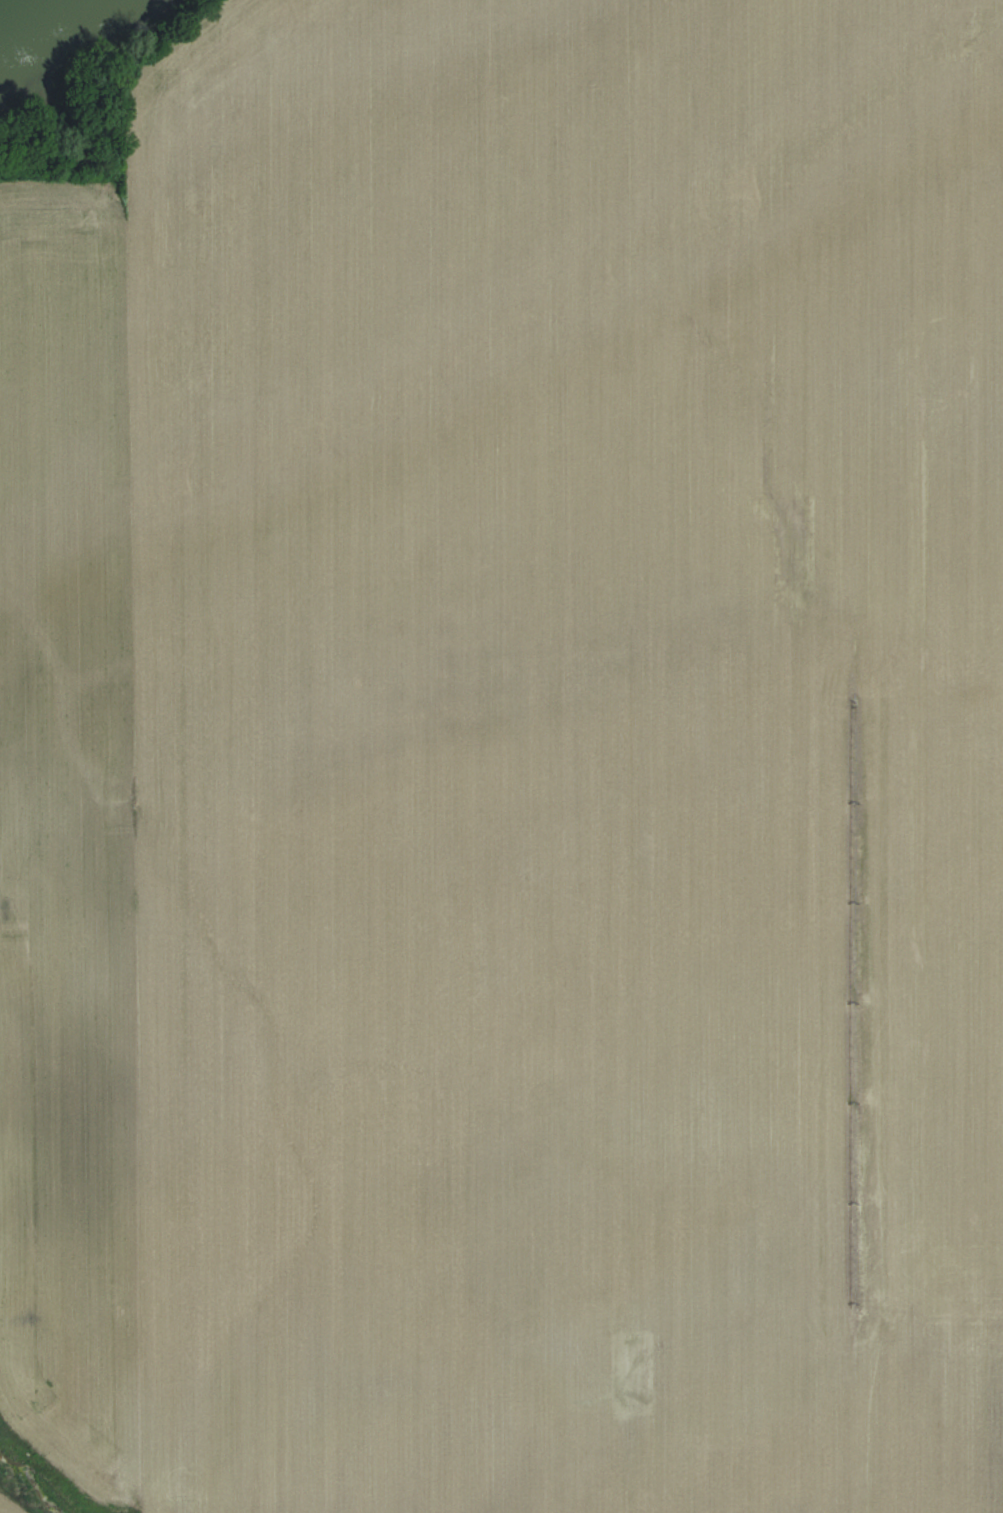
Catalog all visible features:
river: (28, 19)
crop: (12, 1500)

